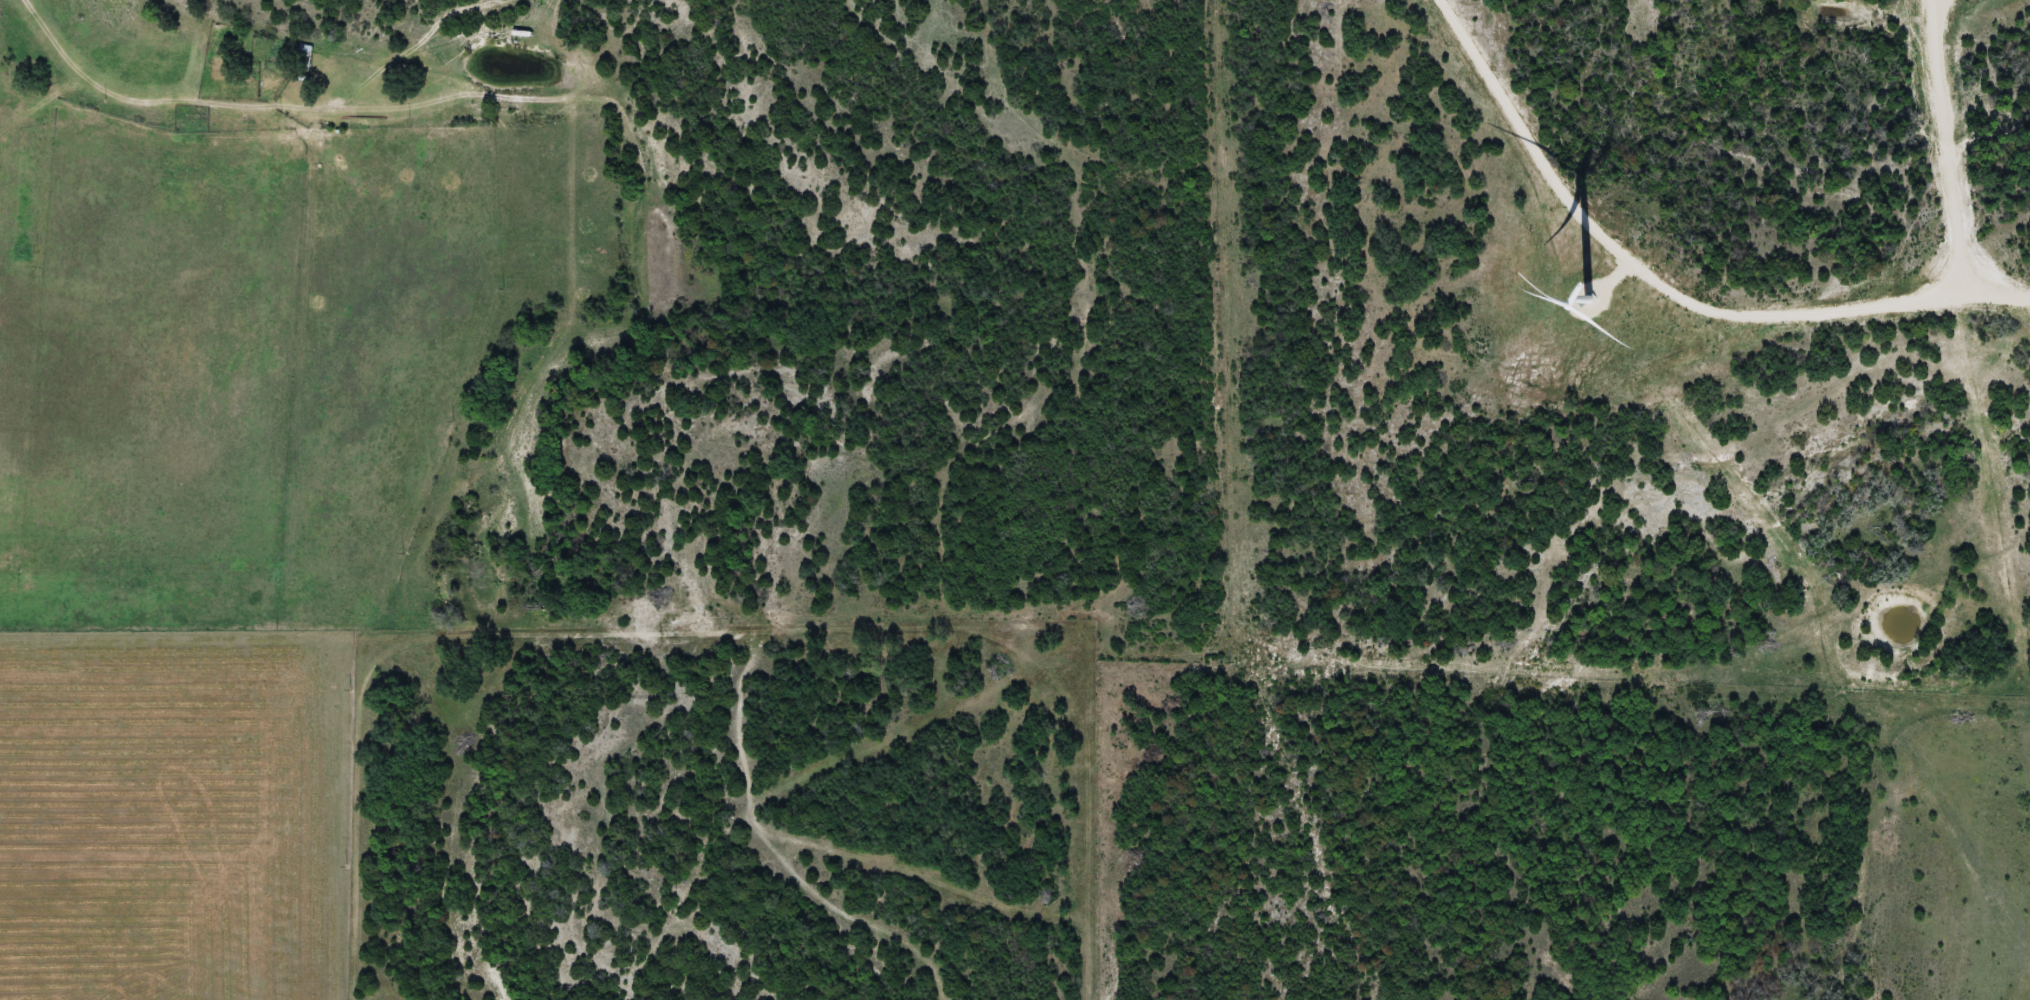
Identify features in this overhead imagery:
building: (303, 62)
road: (252, 102)
road: (1945, 144)
road: (1672, 280)
wind turbine: (1589, 298)

